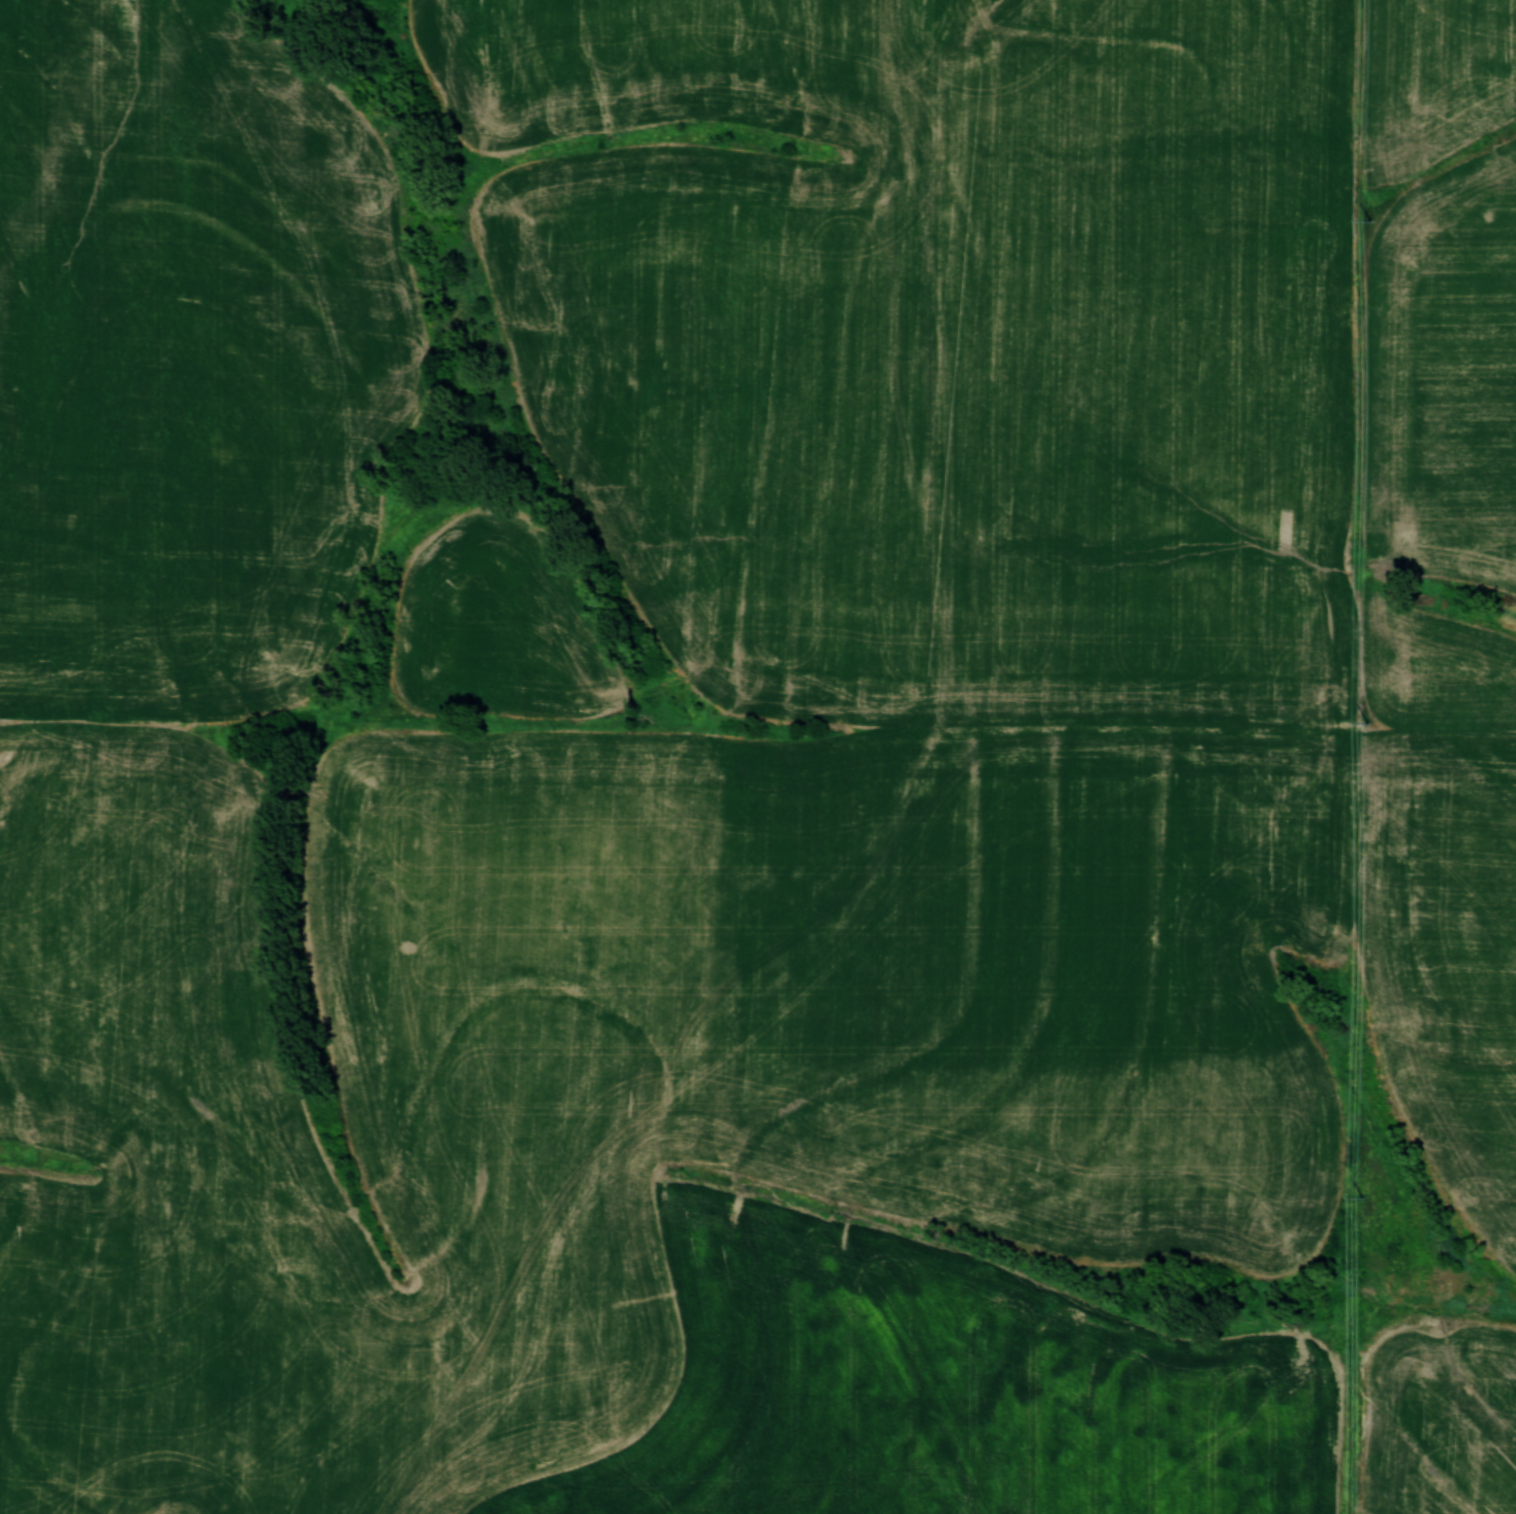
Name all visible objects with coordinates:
power tower: (1369, 220)
power tower: (1367, 722)
power tower: (1362, 1197)

